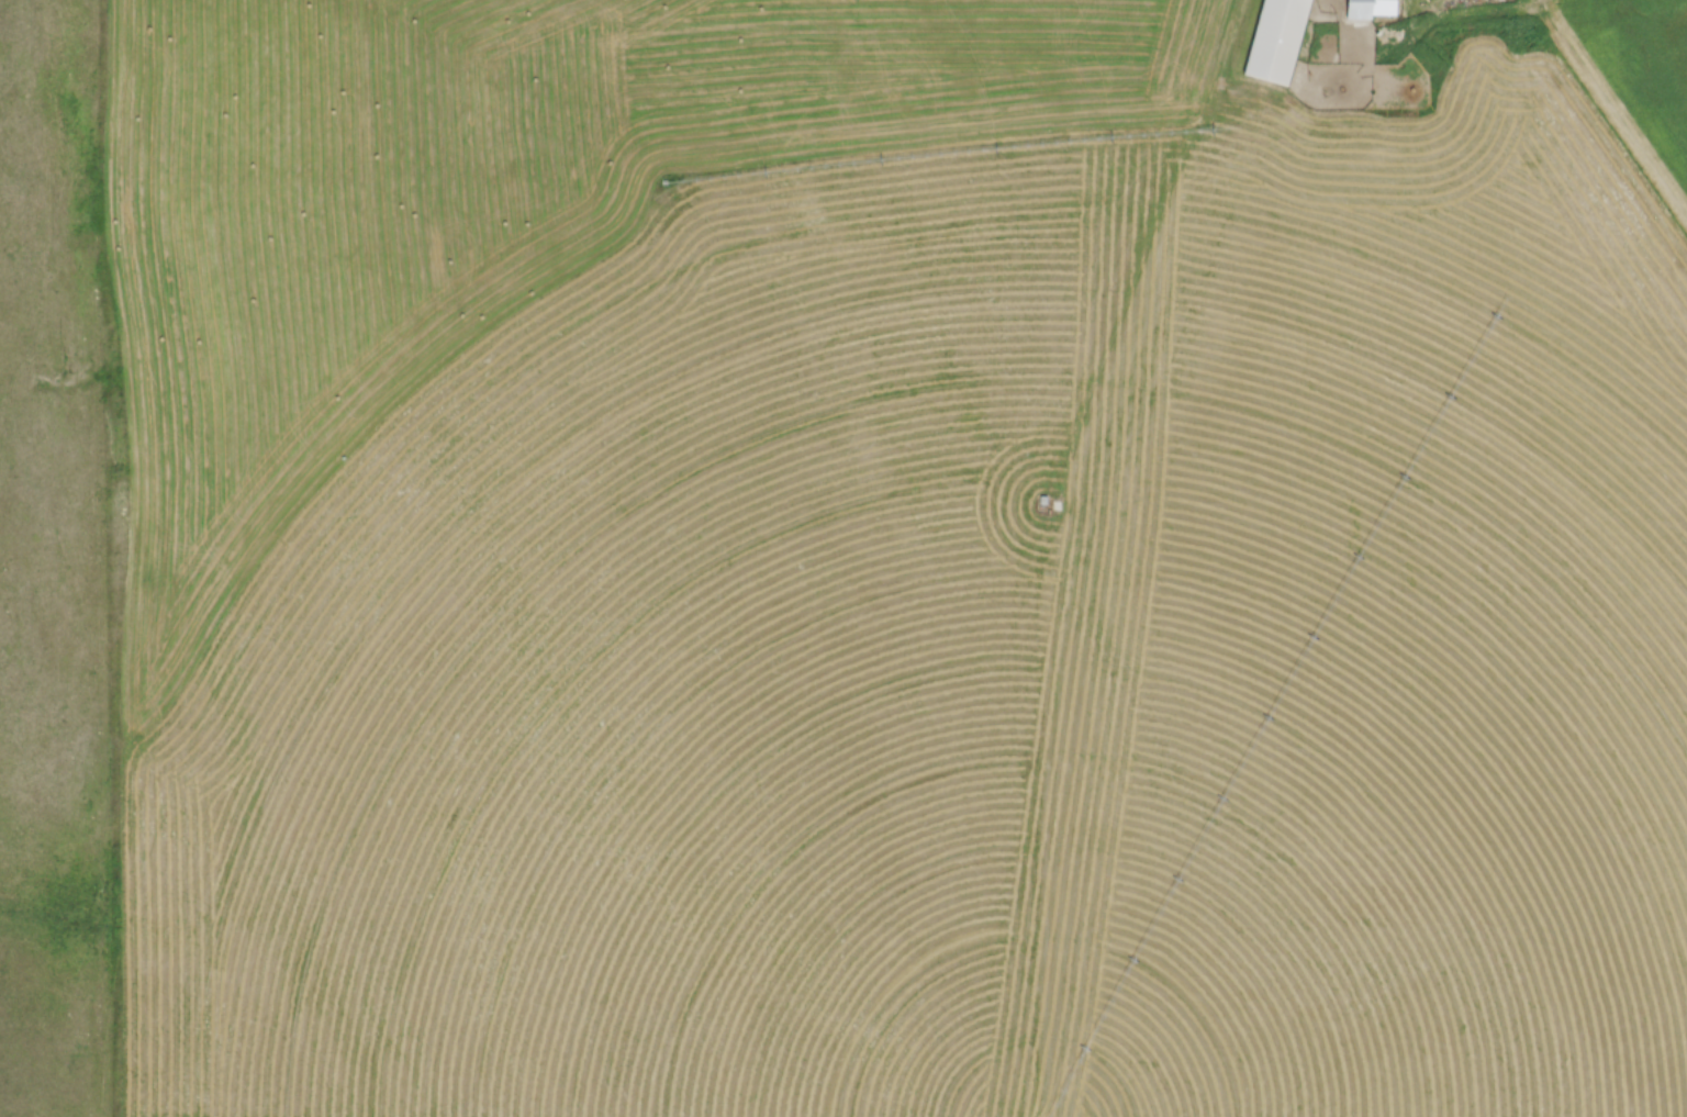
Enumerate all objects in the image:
building: (1375, 9)
building: (1282, 41)

